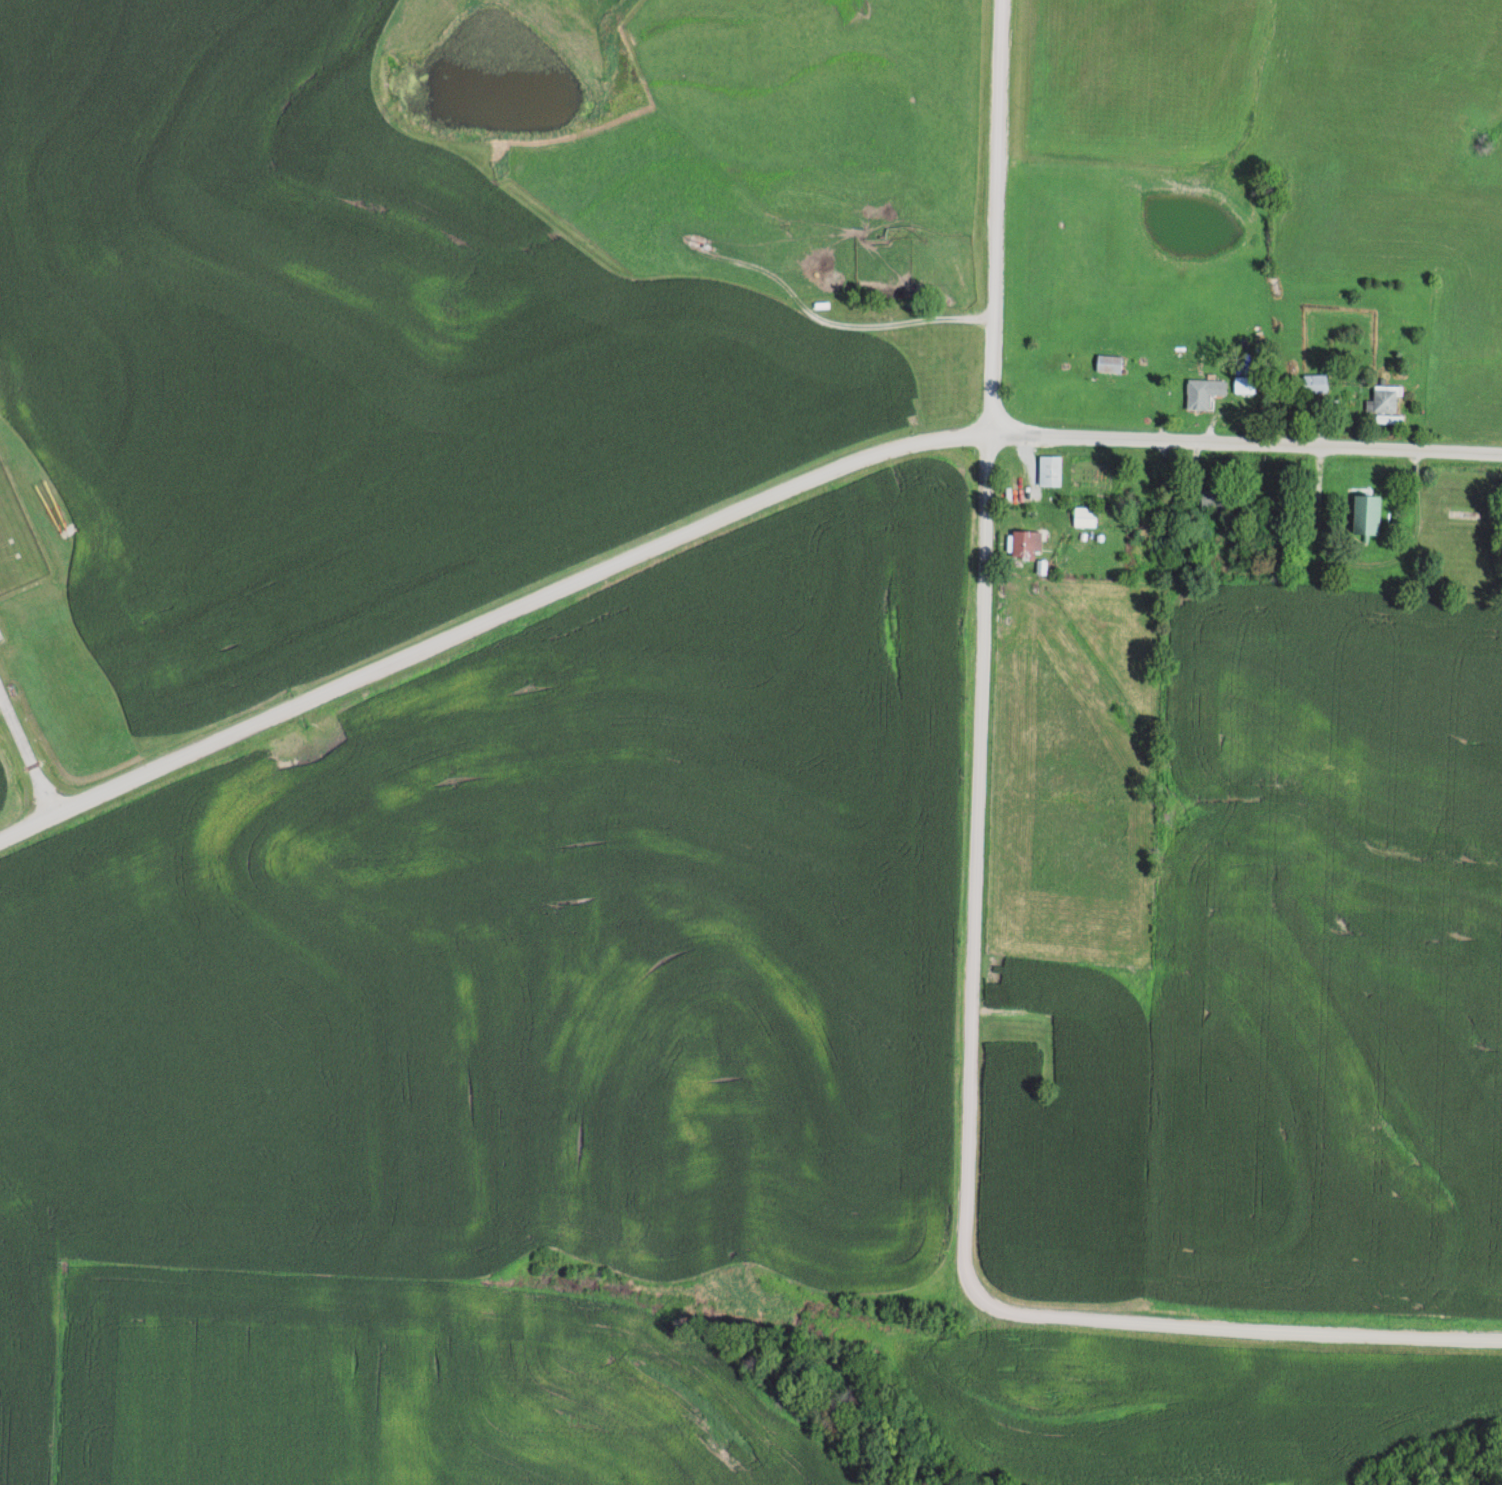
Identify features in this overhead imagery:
road: (815, 317)
building: (1112, 363)
building: (1319, 383)
building: (1207, 393)
building: (1389, 399)
road: (1246, 444)
building: (1053, 471)
building: (1221, 498)
building: (1278, 514)
building: (1371, 515)
building: (1087, 516)
building: (1028, 544)
road: (1363, 568)
road: (489, 621)
road: (28, 751)
road: (977, 915)

